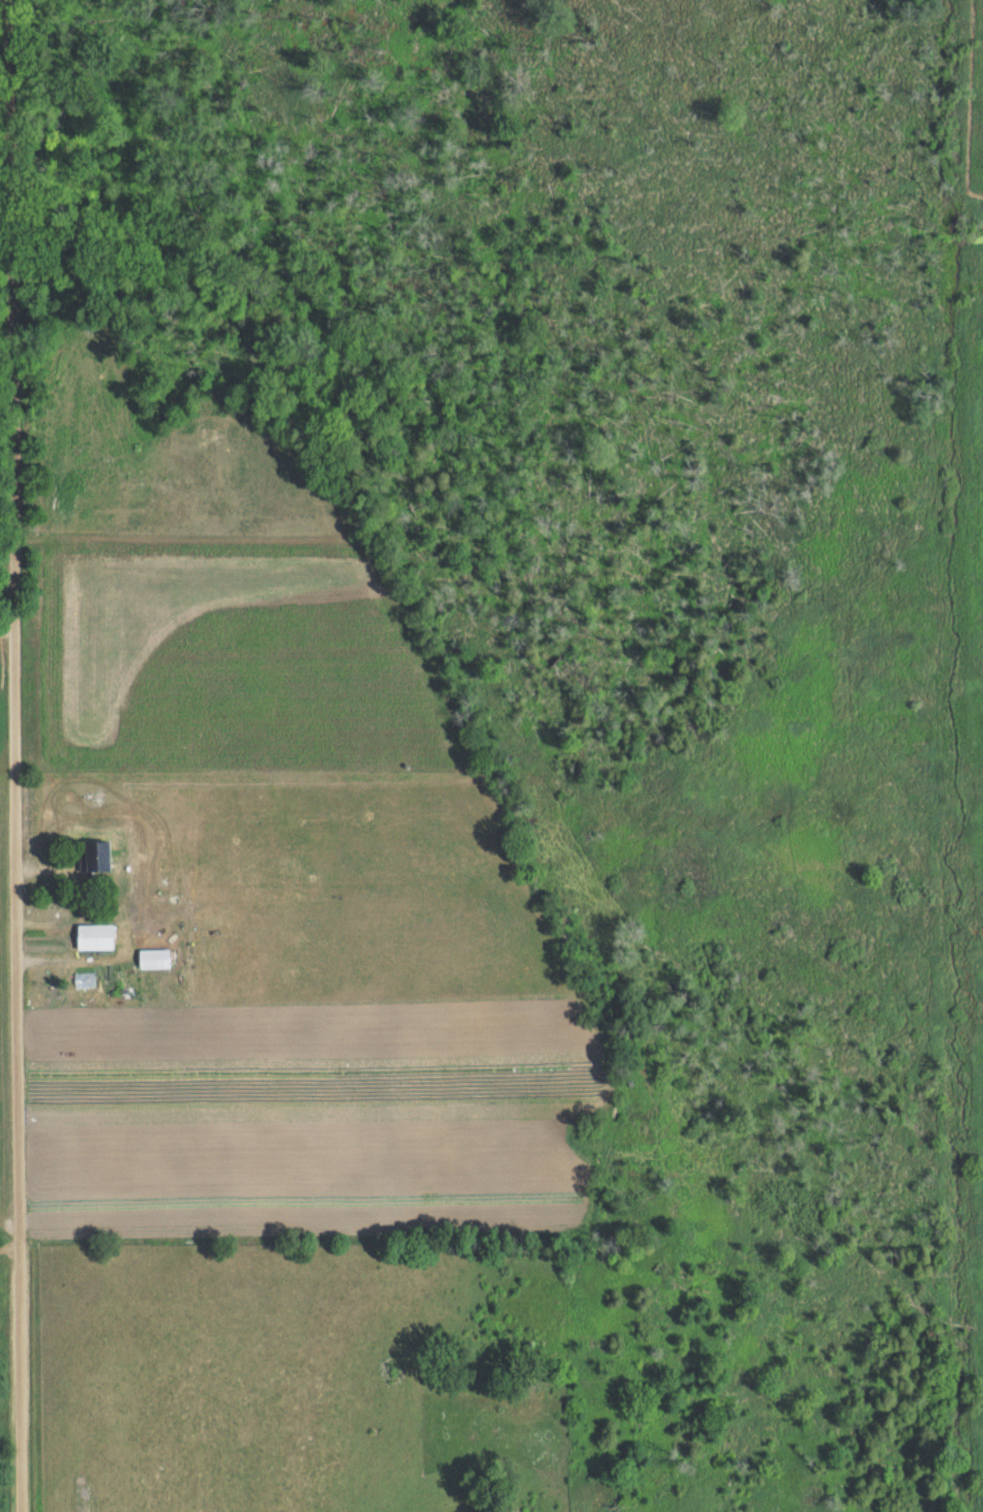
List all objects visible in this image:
road: (14, 756)

